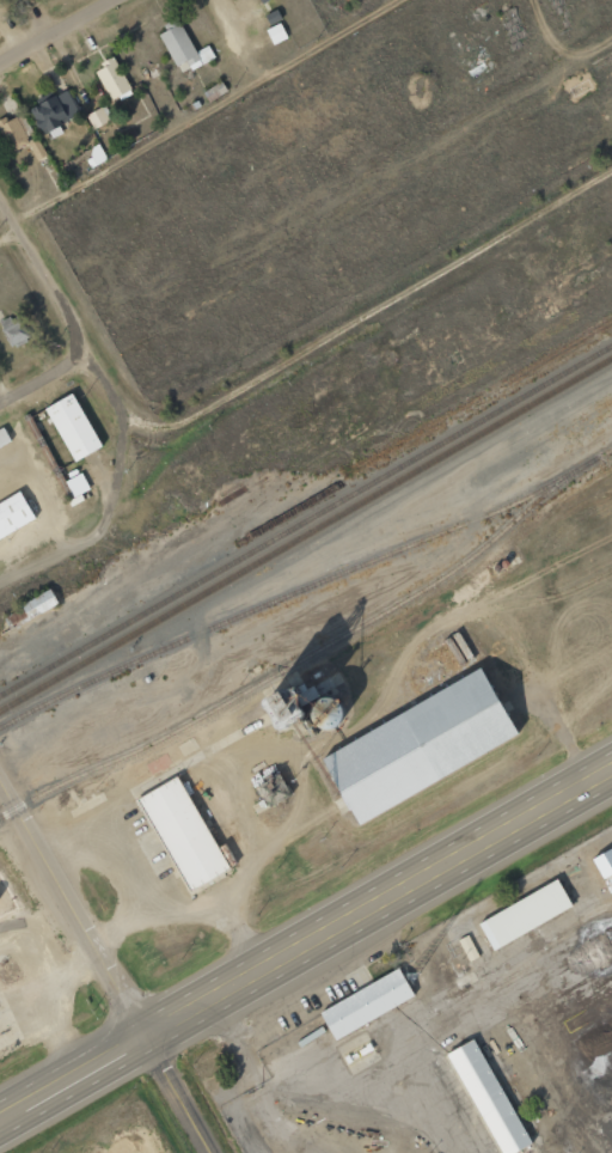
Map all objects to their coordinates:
building: (262, 0)
road: (56, 31)
road: (234, 37)
building: (183, 48)
building: (112, 79)
road: (194, 110)
building: (55, 111)
building: (98, 117)
building: (13, 134)
road: (377, 282)
road: (62, 299)
building: (13, 330)
road: (45, 374)
building: (73, 427)
building: (13, 514)
railway: (306, 521)
railway: (305, 533)
railway: (306, 587)
building: (38, 604)
railway: (302, 658)
building: (300, 704)
building: (422, 727)
building: (274, 789)
building: (183, 817)
road: (418, 881)
building: (525, 898)
building: (469, 947)
road: (108, 968)
building: (368, 990)
road: (185, 1012)
road: (73, 1075)
building: (488, 1082)

